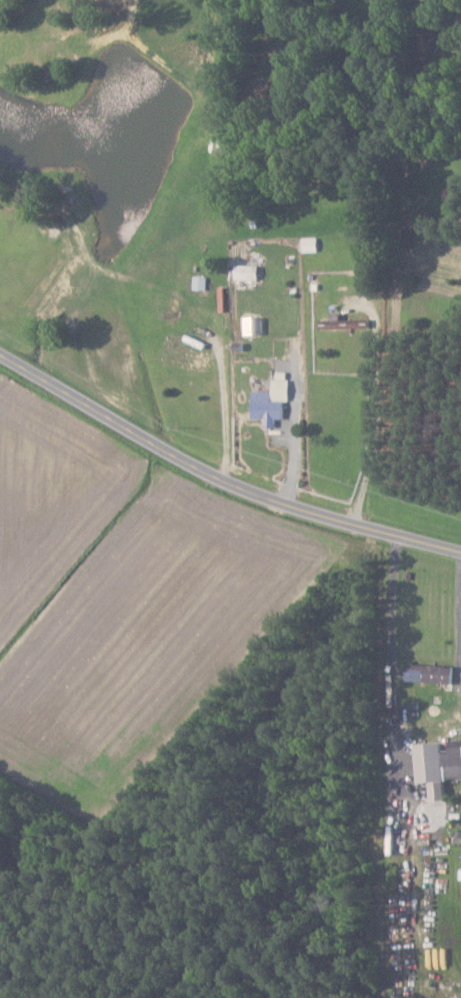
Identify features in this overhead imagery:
building: (311, 244)
building: (249, 272)
building: (347, 322)
building: (276, 401)
road: (377, 416)
road: (297, 430)
road: (220, 473)
road: (458, 592)
building: (432, 672)
building: (439, 766)

